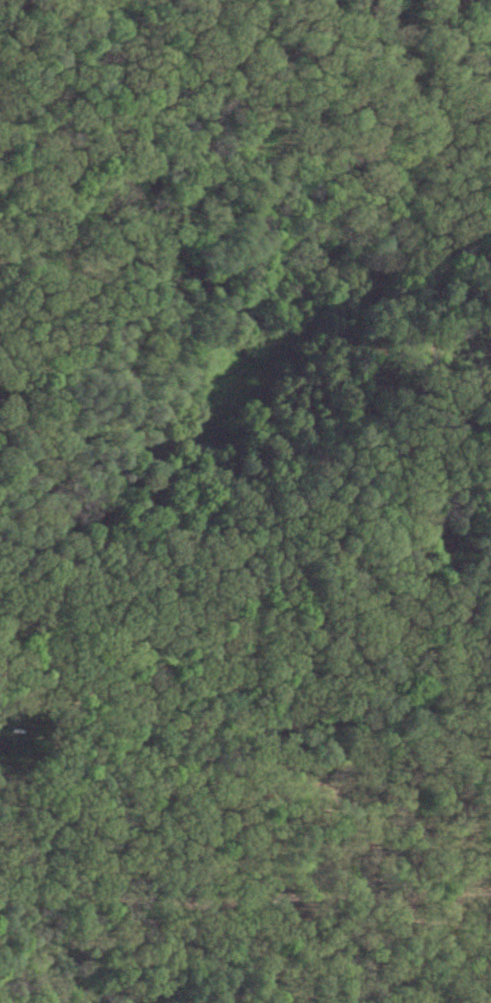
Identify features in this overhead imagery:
road: (245, 885)

